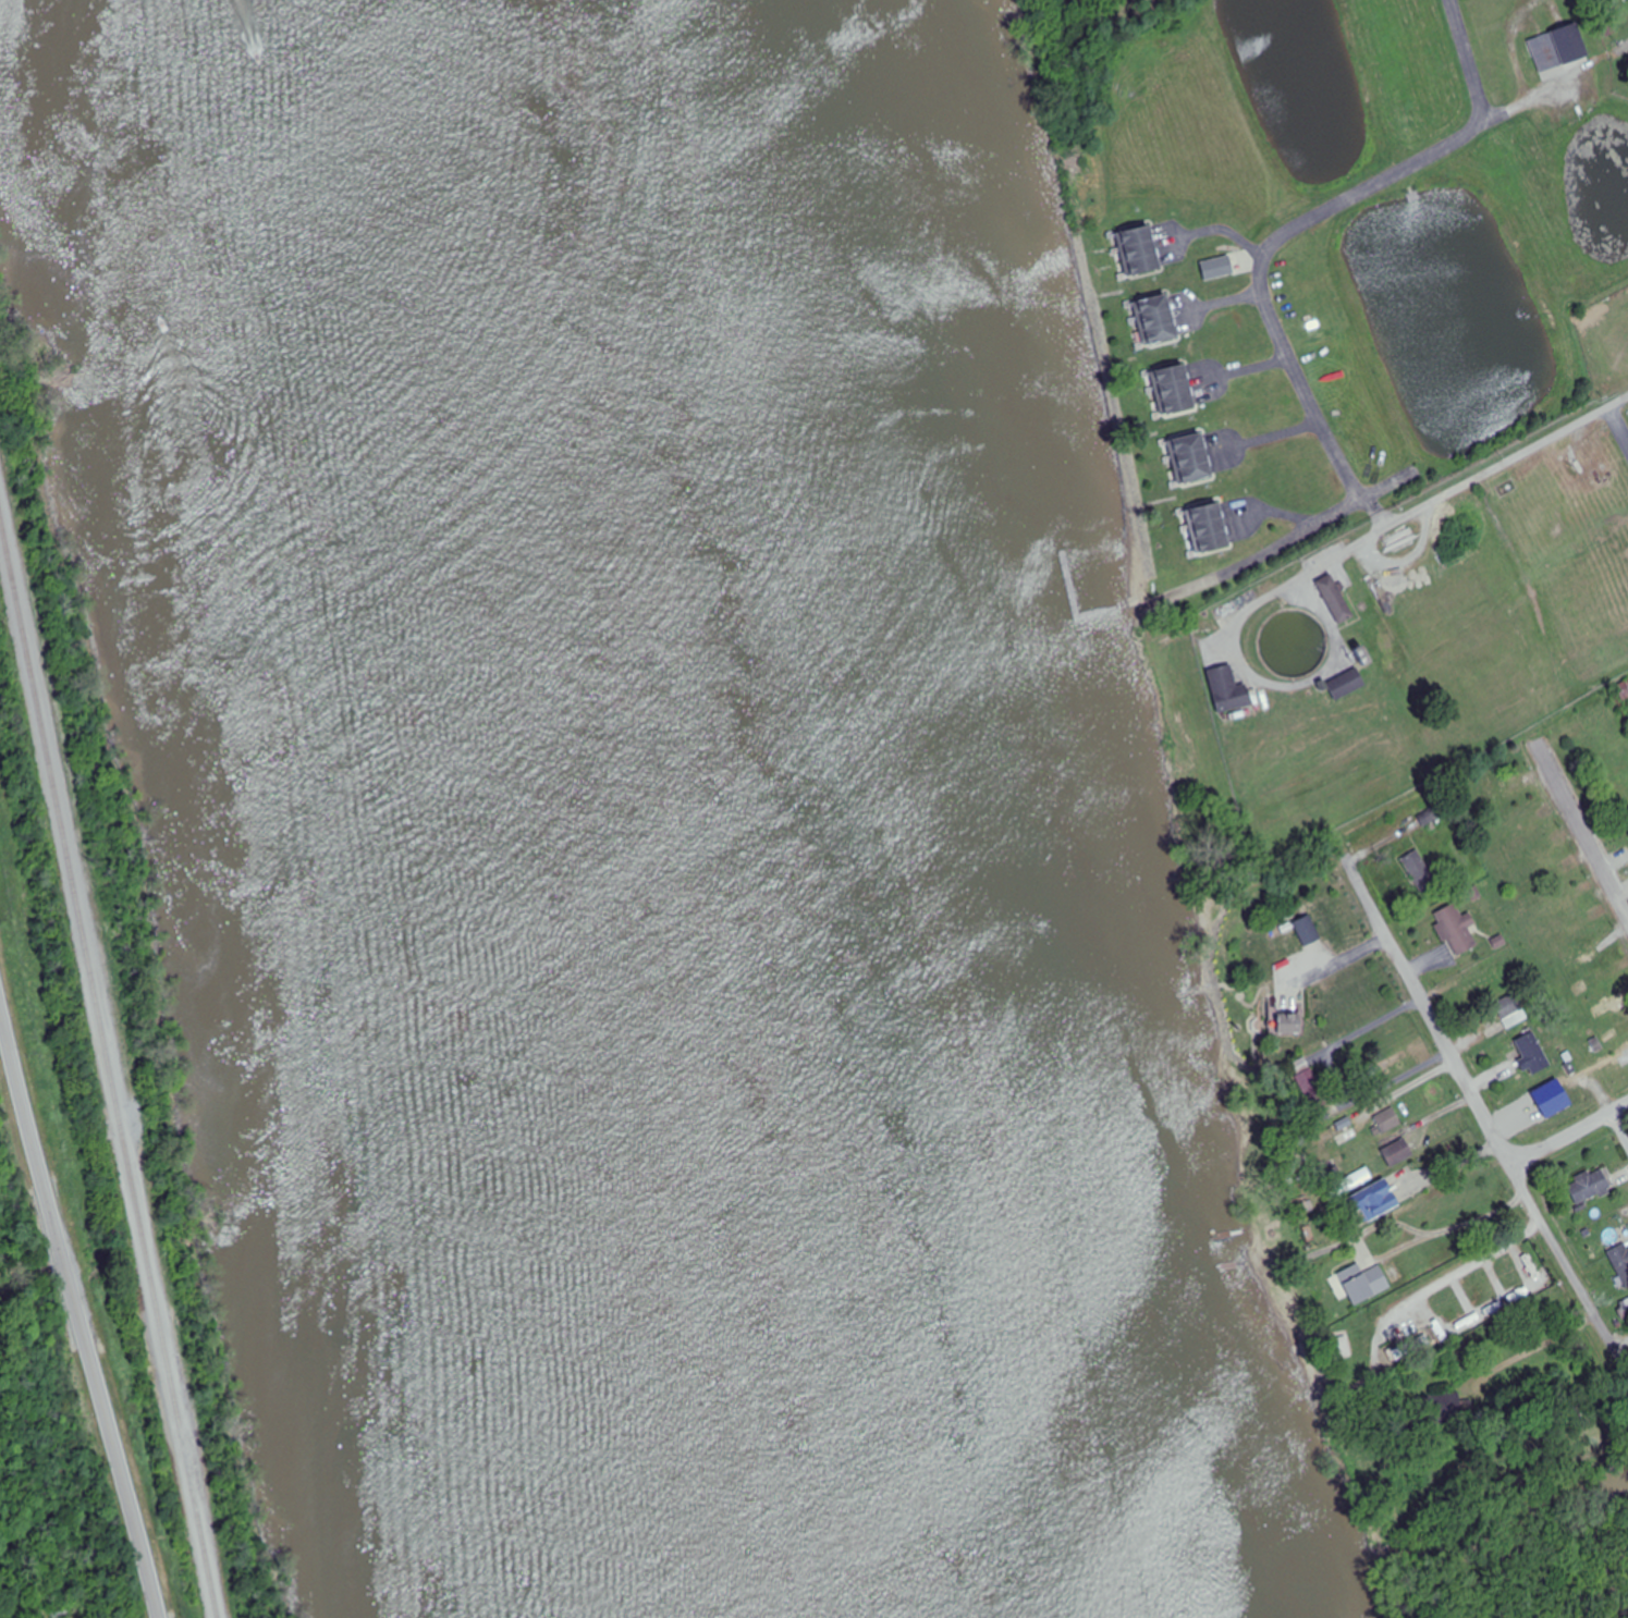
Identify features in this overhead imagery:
building: (1559, 48)
road: (1470, 60)
road: (1324, 211)
building: (1145, 252)
building: (1162, 321)
building: (1180, 391)
building: (1198, 461)
road: (1480, 480)
road: (1381, 514)
road: (1322, 526)
building: (1216, 531)
building: (1339, 601)
pier: (1087, 624)
building: (1351, 687)
building: (1235, 696)
building: (1572, 734)
building: (1603, 750)
building: (1612, 774)
building: (1496, 785)
river: (593, 810)
road: (1582, 825)
building: (1616, 830)
building: (1537, 854)
building: (1423, 868)
building: (1542, 882)
building: (1314, 922)
building: (1458, 927)
building: (1586, 952)
building: (1596, 979)
building: (1611, 1005)
building: (1298, 1014)
building: (1534, 1053)
building: (1624, 1058)
railway: (106, 1067)
road: (1478, 1088)
building: (1551, 1099)
building: (1394, 1115)
road: (1621, 1119)
building: (1344, 1128)
road: (1574, 1133)
building: (1405, 1147)
building: (1357, 1177)
building: (1591, 1185)
building: (1381, 1196)
building: (1621, 1260)
road: (1469, 1264)
building: (1371, 1277)
building: (1626, 1308)
road: (77, 1313)
road: (1539, 1348)

